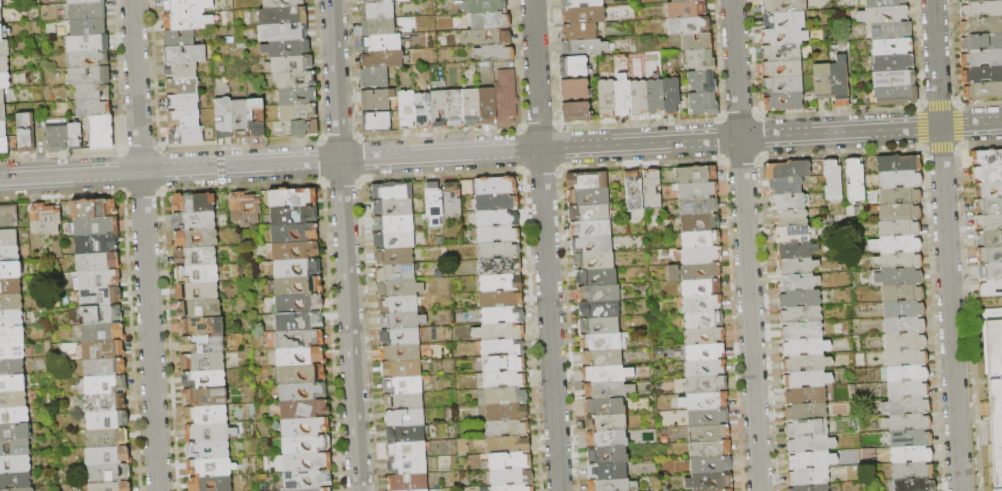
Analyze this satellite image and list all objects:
building: (375, 1)
building: (404, 1)
building: (685, 1)
building: (85, 2)
building: (982, 2)
building: (581, 3)
building: (884, 3)
building: (0, 4)
building: (282, 4)
building: (186, 6)
building: (483, 6)
building: (784, 6)
building: (686, 10)
building: (87, 11)
building: (377, 11)
building: (981, 13)
building: (884, 14)
building: (584, 15)
building: (0, 16)
building: (282, 16)
building: (784, 20)
building: (187, 21)
building: (491, 21)
building: (378, 26)
building: (688, 26)
building: (88, 27)
building: (980, 27)
building: (891, 30)
building: (1, 32)
building: (579, 32)
building: (282, 33)
building: (488, 37)
building: (783, 37)
building: (179, 38)
building: (382, 42)
building: (697, 42)
building: (981, 42)
building: (87, 43)
building: (894, 46)
building: (4, 48)
building: (584, 48)
building: (286, 49)
building: (494, 53)
building: (781, 53)
building: (184, 54)
building: (982, 58)
building: (87, 59)
building: (383, 59)
building: (701, 60)
building: (894, 62)
building: (4, 64)
building: (291, 64)
building: (573, 67)
building: (782, 69)
building: (181, 70)
building: (982, 75)
building: (90, 76)
building: (374, 78)
building: (894, 79)
building: (295, 80)
building: (4, 81)
building: (822, 81)
building: (840, 81)
building: (703, 82)
building: (782, 85)
building: (182, 86)
building: (575, 90)
building: (92, 92)
building: (982, 92)
building: (671, 95)
building: (297, 96)
building: (897, 96)
building: (2, 97)
building: (506, 97)
building: (623, 97)
building: (655, 97)
building: (639, 98)
building: (377, 99)
building: (607, 99)
building: (783, 102)
building: (183, 103)
road: (938, 103)
road: (980, 103)
building: (703, 104)
road: (956, 104)
road: (919, 105)
building: (488, 106)
building: (455, 107)
building: (472, 107)
building: (94, 108)
building: (439, 108)
building: (407, 110)
building: (423, 111)
building: (298, 112)
building: (576, 112)
road: (839, 112)
building: (2, 113)
road: (739, 115)
road: (758, 116)
building: (184, 118)
building: (223, 118)
building: (256, 118)
building: (240, 119)
road: (721, 119)
building: (377, 123)
road: (640, 123)
road: (958, 124)
road: (538, 126)
road: (557, 126)
road: (919, 127)
building: (304, 128)
road: (520, 128)
building: (3, 129)
building: (101, 132)
building: (26, 133)
building: (186, 135)
building: (75, 136)
road: (762, 137)
building: (57, 138)
road: (722, 140)
road: (981, 142)
building: (4, 145)
road: (958, 145)
road: (559, 147)
road: (922, 147)
road: (940, 147)
road: (520, 149)
road: (501, 151)
road: (842, 152)
building: (986, 156)
road: (761, 158)
road: (743, 160)
road: (725, 161)
road: (642, 163)
building: (899, 164)
road: (559, 167)
road: (523, 169)
road: (541, 169)
building: (788, 170)
building: (986, 172)
building: (696, 174)
building: (855, 179)
building: (588, 180)
building: (833, 180)
building: (901, 180)
building: (498, 186)
building: (785, 186)
building: (989, 188)
building: (653, 190)
building: (393, 191)
building: (698, 191)
building: (634, 192)
building: (589, 197)
building: (901, 197)
building: (292, 198)
building: (452, 200)
building: (496, 202)
building: (787, 202)
building: (194, 203)
building: (434, 203)
building: (988, 204)
building: (699, 207)
building: (394, 208)
building: (93, 209)
building: (245, 209)
building: (590, 213)
building: (900, 213)
building: (8, 216)
building: (293, 216)
building: (790, 218)
building: (45, 219)
building: (497, 219)
building: (988, 220)
building: (194, 221)
building: (700, 223)
building: (394, 224)
building: (96, 227)
building: (591, 229)
building: (900, 229)
building: (295, 234)
building: (792, 234)
building: (498, 235)
building: (989, 237)
building: (8, 238)
building: (196, 239)
building: (701, 239)
building: (395, 240)
building: (97, 245)
road: (144, 245)
road: (345, 245)
road: (545, 245)
building: (592, 245)
road: (745, 245)
building: (895, 245)
road: (946, 245)
building: (797, 250)
building: (295, 251)
building: (499, 251)
building: (990, 253)
building: (9, 254)
building: (701, 255)
building: (196, 256)
building: (395, 256)
building: (898, 261)
building: (98, 262)
building: (594, 262)
building: (500, 267)
building: (798, 267)
building: (296, 269)
building: (990, 270)
building: (10, 271)
building: (694, 272)
building: (396, 273)
building: (197, 274)
building: (597, 277)
building: (899, 277)
building: (99, 280)
building: (501, 283)
building: (799, 283)
building: (297, 286)
building: (990, 286)
building: (10, 287)
building: (400, 288)
building: (701, 288)
building: (197, 291)
building: (600, 293)
building: (903, 293)
building: (100, 297)
building: (800, 299)
building: (501, 300)
building: (10, 303)
building: (298, 304)
building: (703, 304)
building: (399, 305)
building: (199, 309)
building: (600, 309)
building: (905, 310)
building: (100, 315)
building: (503, 315)
building: (801, 315)
building: (11, 319)
building: (704, 320)
building: (298, 321)
building: (403, 321)
building: (600, 326)
building: (905, 326)
building: (202, 327)
building: (802, 331)
building: (499, 332)
building: (103, 333)
building: (12, 335)
building: (705, 336)
building: (400, 337)
building: (298, 339)
building: (604, 342)
building: (905, 342)
building: (203, 345)
building: (503, 348)
building: (806, 348)
building: (103, 350)
building: (11, 351)
building: (706, 352)
building: (401, 353)
building: (299, 357)
building: (602, 358)
building: (906, 358)
building: (202, 362)
building: (504, 364)
building: (807, 364)
building: (12, 367)
building: (104, 367)
building: (402, 369)
building: (705, 369)
building: (301, 374)
building: (607, 374)
building: (907, 374)
building: (204, 380)
building: (504, 380)
building: (807, 380)
building: (12, 383)
building: (105, 385)
building: (403, 385)
building: (706, 385)
building: (609, 390)
building: (908, 390)
building: (302, 392)
building: (506, 396)
building: (805, 396)
building: (206, 397)
building: (994, 397)
building: (13, 399)
building: (704, 401)
building: (404, 402)
building: (104, 403)
building: (906, 406)
building: (605, 407)
building: (304, 409)
building: (806, 412)
building: (507, 413)
building: (14, 415)
building: (206, 415)
building: (707, 417)
building: (405, 418)
building: (107, 420)
building: (606, 422)
building: (907, 423)
building: (304, 427)
building: (507, 429)
building: (805, 429)
building: (15, 431)
building: (209, 432)
building: (709, 433)
building: (406, 434)
building: (106, 438)
building: (607, 439)
building: (912, 439)
building: (304, 445)
building: (508, 445)
building: (811, 445)
building: (14, 448)
building: (710, 449)
building: (208, 450)
building: (406, 450)
building: (608, 455)
building: (912, 455)
building: (108, 456)
building: (510, 461)
building: (812, 461)
building: (307, 462)
building: (15, 464)
building: (711, 465)
building: (407, 466)
building: (211, 468)
building: (608, 471)
building: (913, 471)
building: (108, 474)
building: (510, 477)
building: (808, 477)
building: (307, 480)
building: (15, 481)
building: (408, 482)
building: (713, 482)
building: (210, 484)
building: (613, 485)
building: (916, 485)
building: (110, 487)
building: (512, 488)
building: (810, 488)
building: (18, 490)
building: (316, 490)
building: (421, 490)
building: (725, 490)

